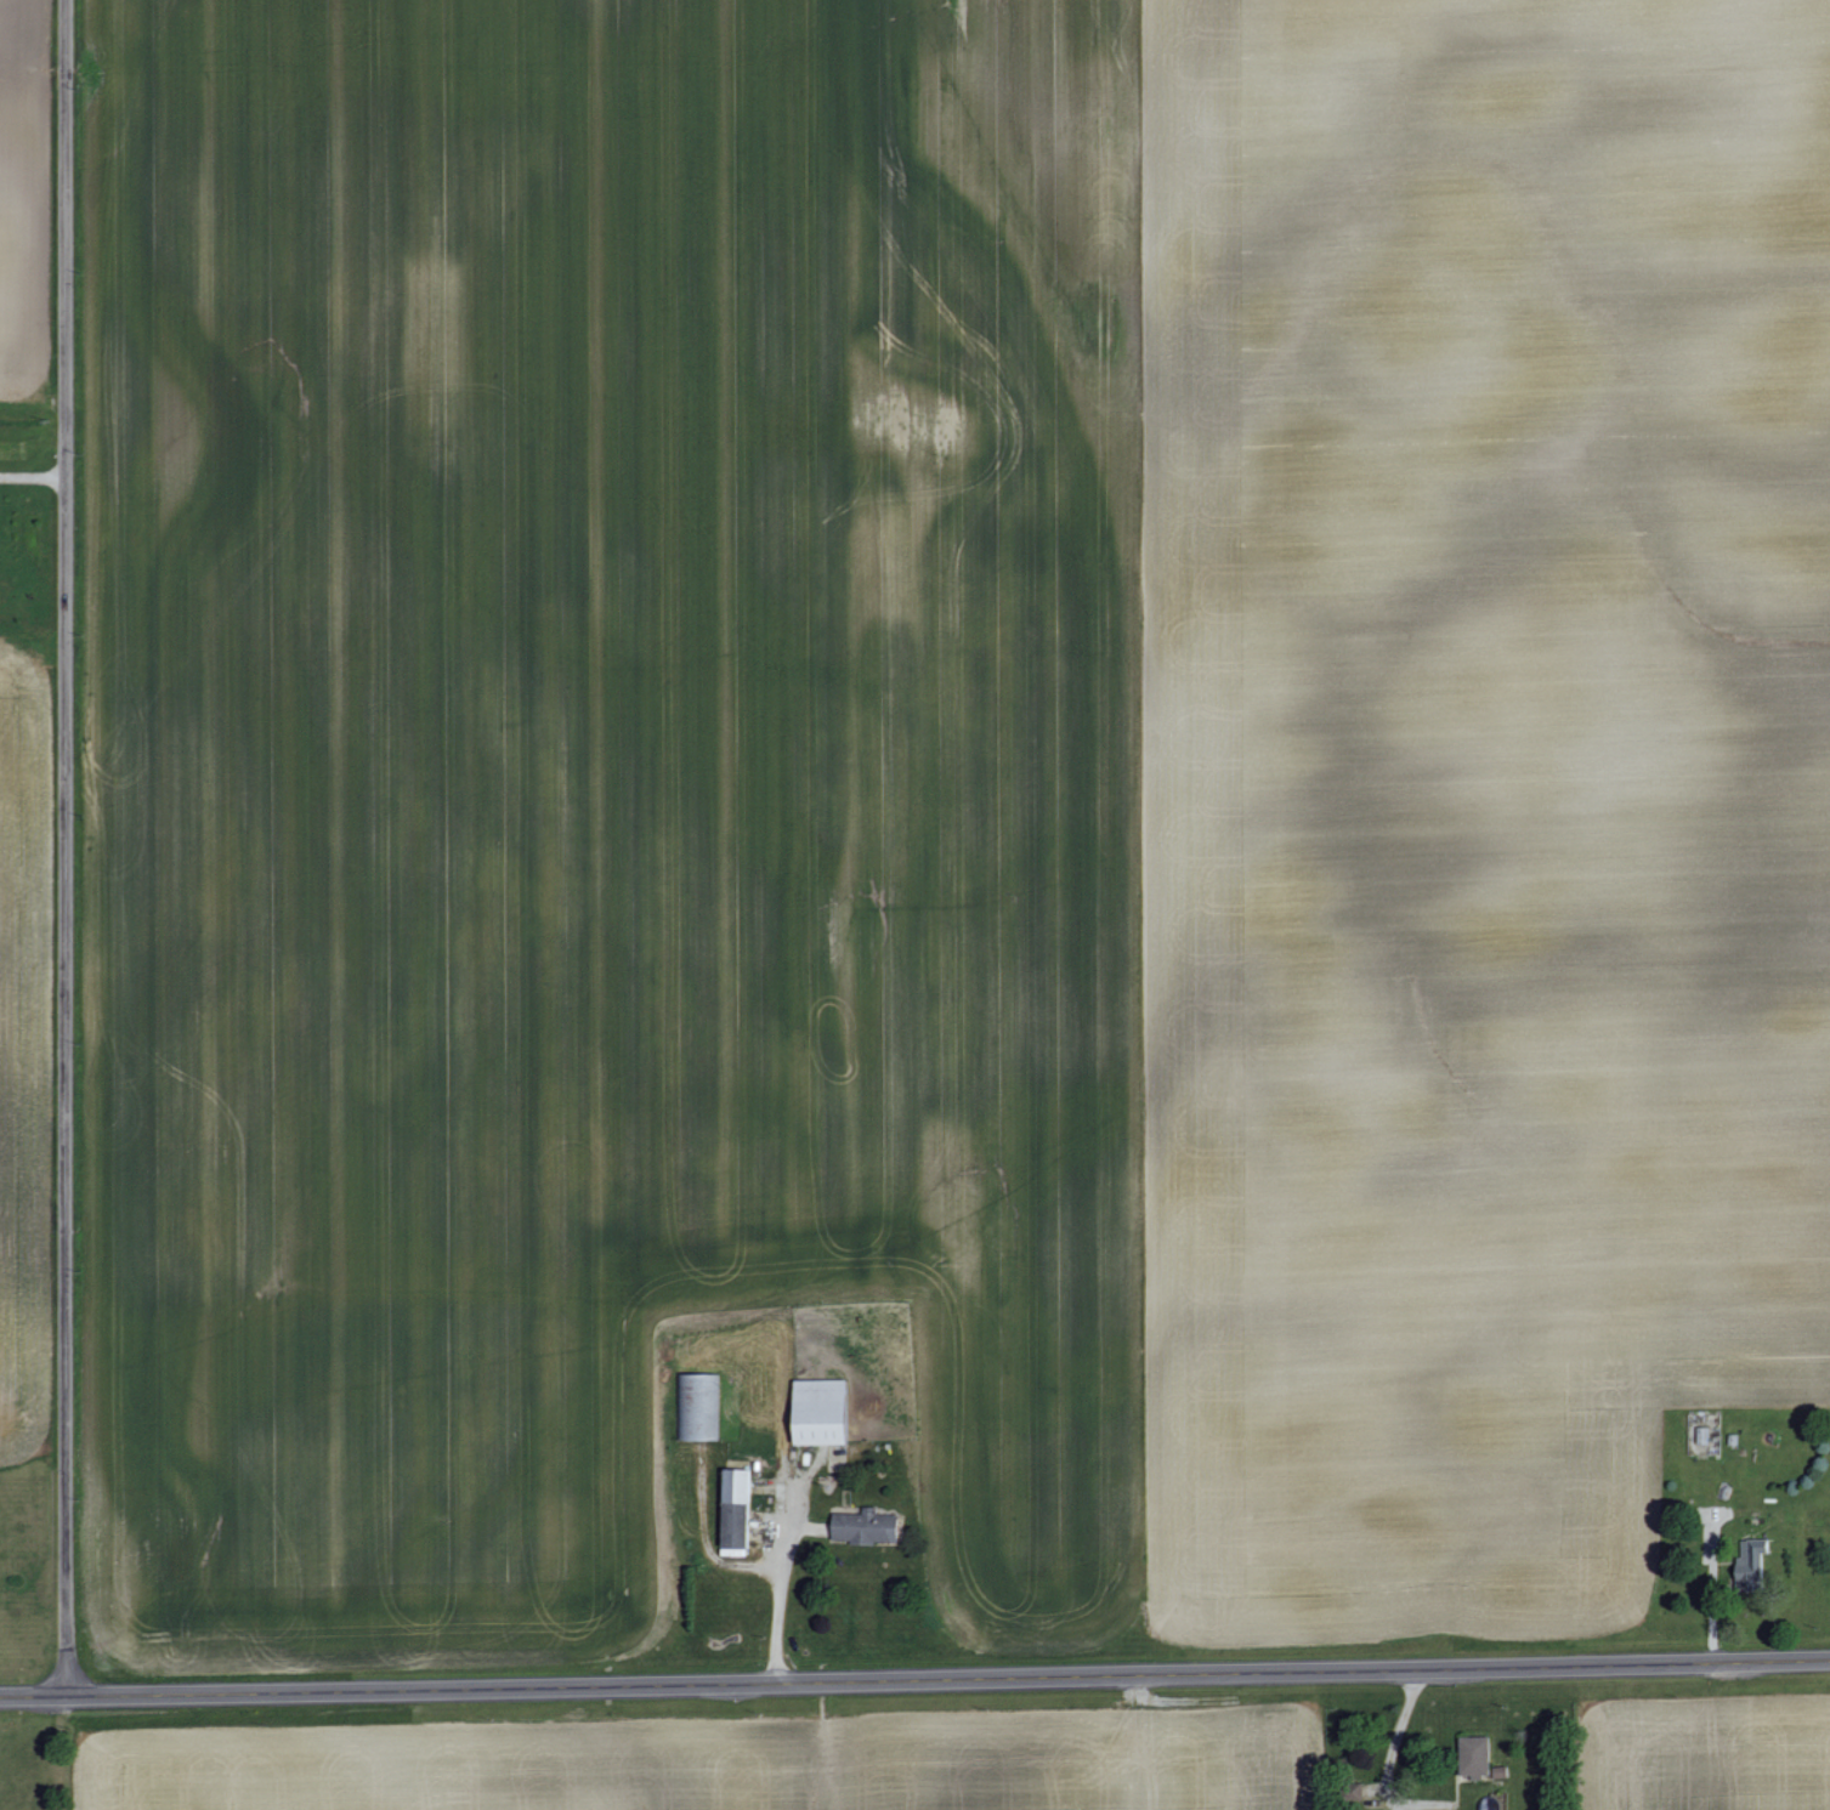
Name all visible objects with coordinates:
road: (26, 477)
road: (52, 850)
building: (696, 1406)
building: (822, 1411)
building: (736, 1507)
building: (866, 1526)
building: (1752, 1561)
road: (777, 1604)
road: (914, 1683)
road: (1394, 1741)
building: (1475, 1754)

